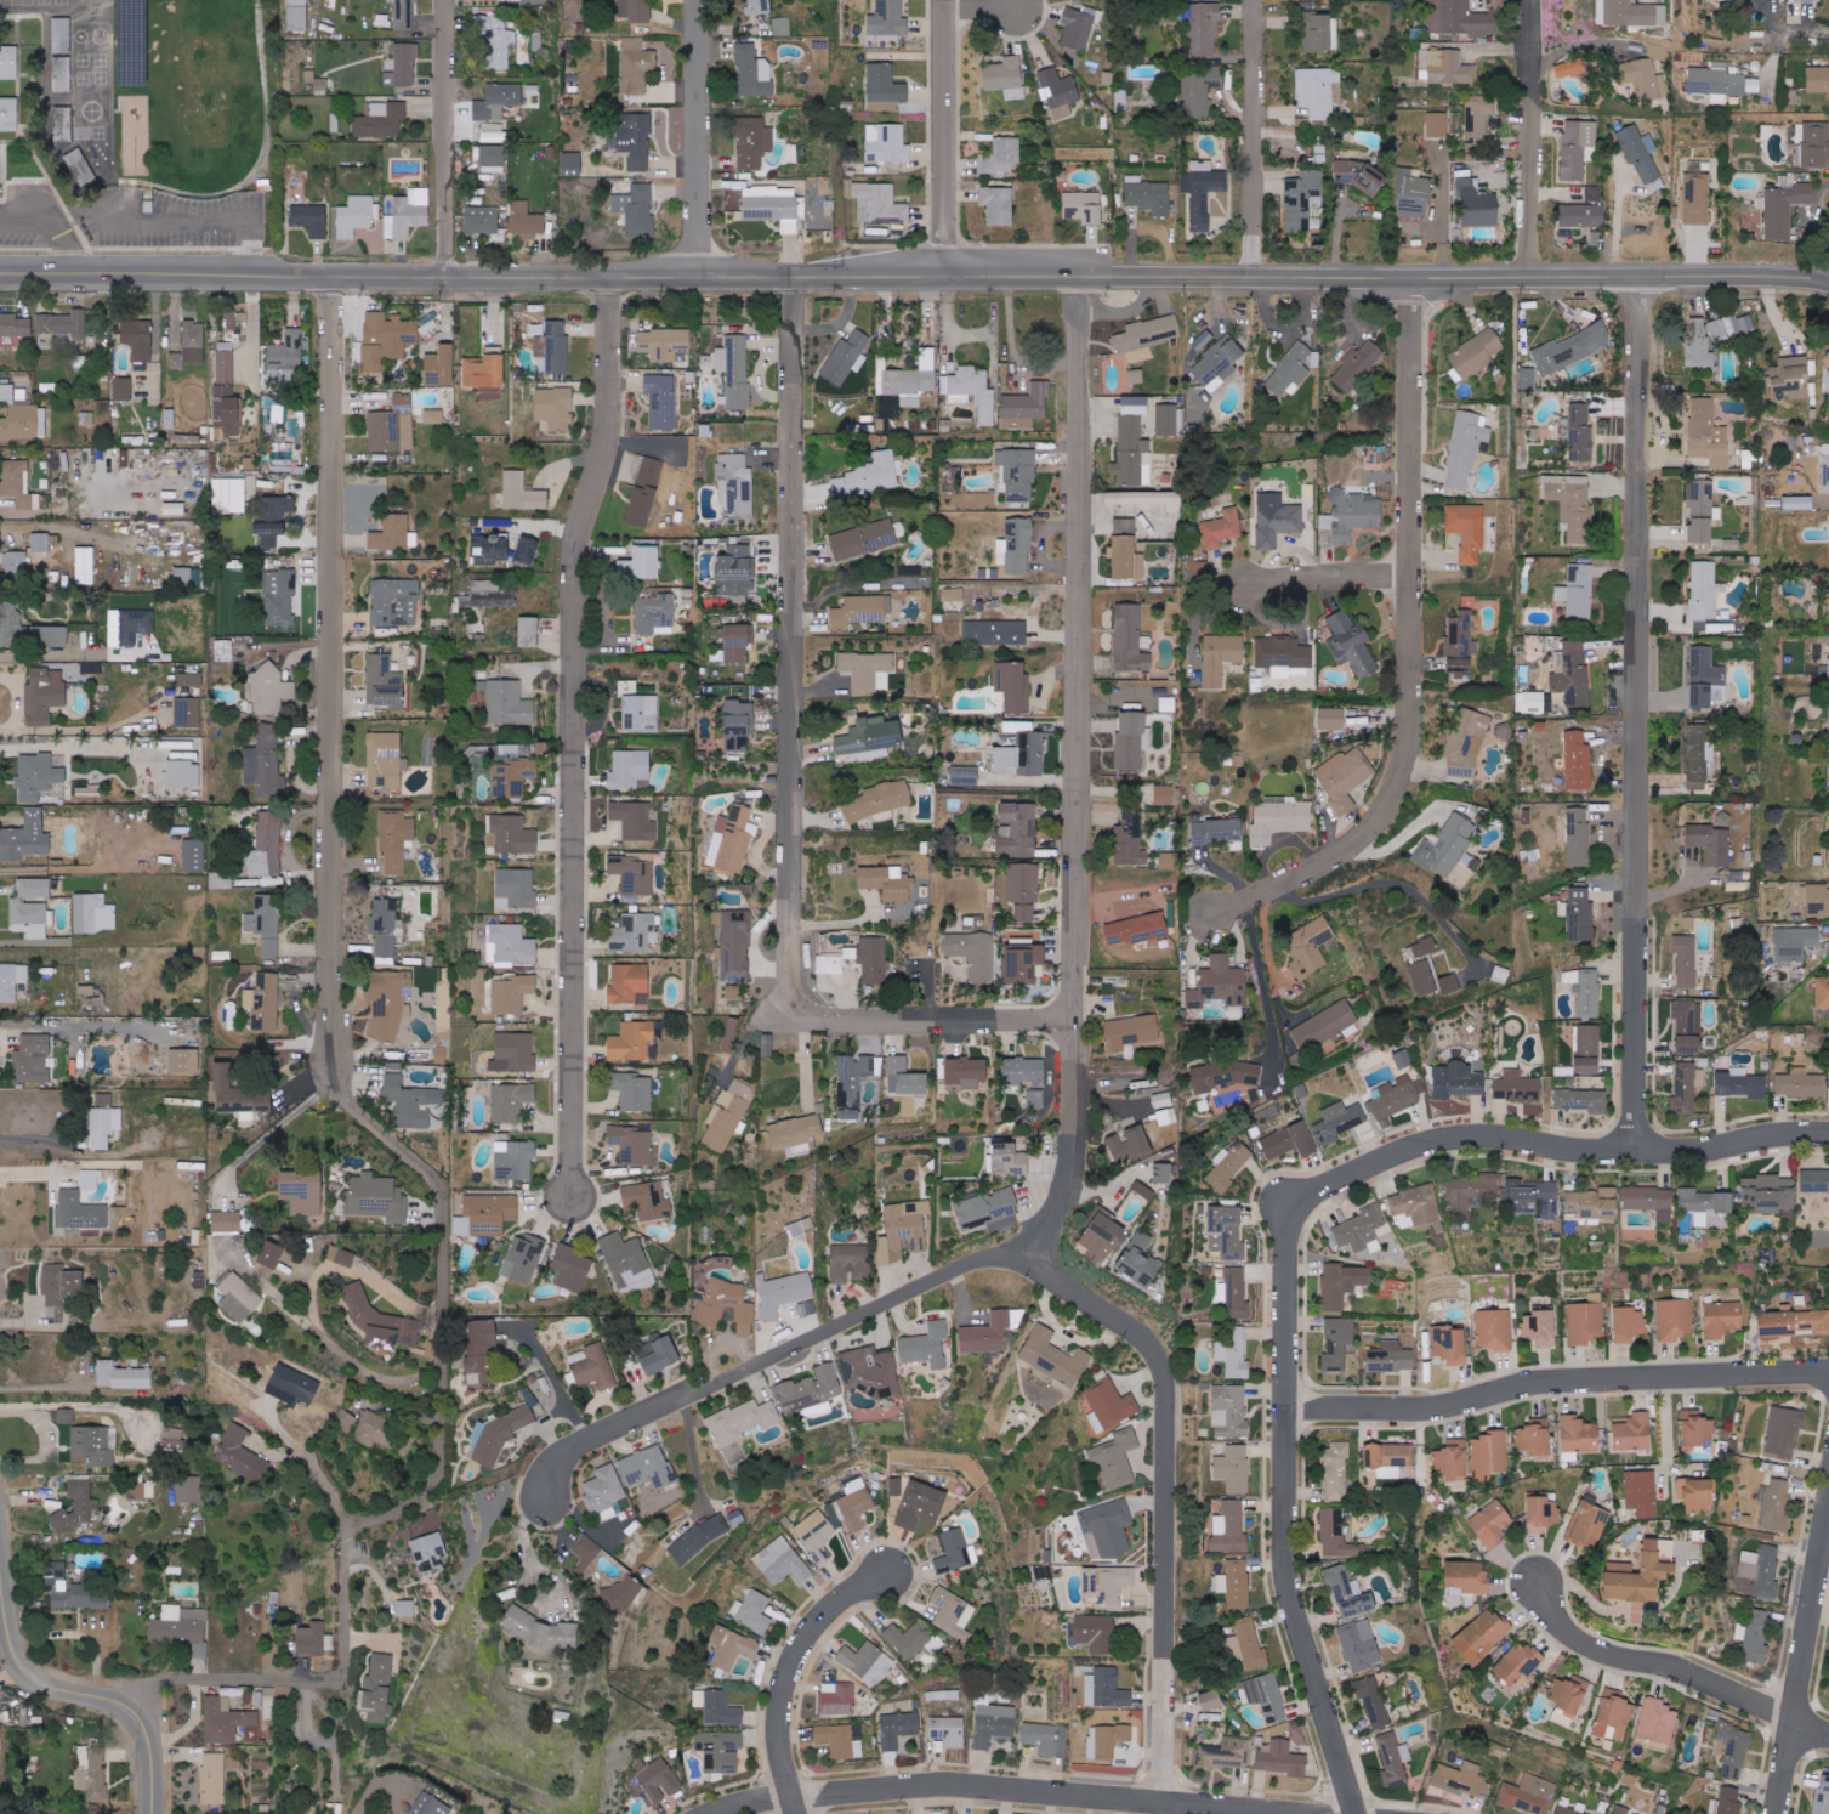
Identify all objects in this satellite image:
building: (512, 0)
building: (1742, 0)
building: (1810, 1)
building: (123, 2)
building: (756, 5)
building: (640, 10)
road: (983, 12)
building: (1634, 13)
building: (296, 15)
building: (404, 15)
building: (1459, 18)
building: (382, 21)
building: (888, 21)
building: (1079, 27)
building: (1204, 28)
building: (1318, 30)
building: (62, 34)
road: (1800, 35)
building: (501, 42)
building: (8, 62)
building: (403, 64)
building: (637, 66)
building: (1449, 68)
building: (1569, 68)
building: (751, 72)
building: (62, 75)
building: (1006, 78)
building: (1646, 78)
building: (1818, 80)
building: (1716, 83)
building: (314, 84)
building: (885, 87)
building: (1197, 91)
building: (1319, 91)
building: (1060, 92)
building: (498, 101)
building: (8, 113)
building: (381, 119)
building: (334, 121)
building: (1477, 121)
building: (1437, 124)
building: (63, 125)
road: (449, 137)
road: (694, 137)
road: (950, 137)
road: (1254, 137)
road: (1534, 138)
building: (754, 142)
building: (886, 143)
building: (1814, 143)
building: (1577, 147)
building: (636, 148)
building: (1001, 155)
building: (1642, 158)
building: (493, 159)
building: (572, 164)
building: (80, 166)
building: (1358, 175)
building: (1203, 194)
building: (1411, 194)
building: (1148, 195)
building: (1594, 195)
building: (1697, 198)
building: (1301, 199)
building: (634, 203)
building: (879, 204)
building: (1477, 204)
building: (998, 205)
building: (1784, 205)
building: (772, 206)
building: (1084, 206)
building: (408, 214)
road: (178, 216)
building: (356, 216)
building: (1583, 216)
building: (311, 219)
building: (482, 220)
building: (526, 220)
road: (57, 222)
building: (819, 222)
road: (39, 274)
road: (954, 276)
building: (63, 323)
building: (1734, 323)
building: (15, 325)
building: (1717, 330)
building: (394, 336)
building: (1146, 336)
building: (138, 339)
building: (664, 344)
building: (1697, 344)
building: (189, 346)
building: (556, 348)
building: (1572, 350)
building: (1476, 353)
building: (286, 355)
building: (1828, 355)
building: (846, 358)
building: (1219, 363)
building: (441, 365)
building: (1357, 365)
building: (735, 369)
building: (1289, 372)
building: (487, 373)
building: (1791, 378)
building: (1527, 379)
building: (911, 380)
building: (123, 389)
building: (973, 392)
building: (6, 393)
building: (227, 395)
building: (661, 401)
building: (1028, 404)
building: (1136, 404)
building: (555, 408)
building: (433, 416)
building: (169, 418)
building: (86, 419)
building: (1166, 419)
building: (24, 424)
building: (392, 426)
building: (1578, 432)
building: (1708, 436)
building: (187, 438)
building: (1466, 447)
building: (1132, 453)
building: (70, 459)
building: (1825, 469)
building: (1018, 474)
building: (869, 476)
building: (19, 484)
building: (735, 484)
building: (523, 492)
building: (644, 492)
building: (229, 494)
building: (1572, 503)
building: (1799, 503)
building: (278, 508)
building: (1702, 510)
building: (1356, 516)
building: (1277, 518)
building: (1222, 529)
building: (1469, 531)
building: (271, 533)
building: (393, 533)
building: (864, 539)
building: (1016, 545)
building: (40, 548)
building: (492, 548)
building: (528, 550)
building: (1126, 559)
building: (16, 563)
building: (643, 563)
building: (85, 565)
building: (1197, 569)
building: (735, 572)
building: (188, 577)
road: (1327, 583)
building: (1577, 591)
building: (1703, 591)
building: (490, 594)
building: (954, 594)
building: (279, 596)
building: (394, 602)
building: (863, 610)
building: (654, 613)
building: (136, 625)
building: (28, 631)
building: (529, 631)
building: (995, 631)
building: (1461, 635)
building: (1131, 640)
building: (737, 642)
building: (1352, 645)
road: (795, 647)
building: (225, 650)
road: (1411, 652)
road: (59, 657)
building: (1221, 657)
building: (1283, 657)
building: (1460, 667)
building: (869, 670)
building: (1572, 674)
building: (1704, 676)
building: (191, 679)
building: (385, 682)
building: (1013, 685)
building: (269, 690)
building: (44, 695)
building: (1530, 702)
building: (509, 704)
building: (187, 712)
building: (641, 714)
road: (1640, 715)
building: (1331, 719)
building: (738, 726)
building: (871, 735)
road: (576, 739)
building: (1132, 741)
building: (1466, 746)
road: (76, 747)
building: (1022, 755)
building: (1700, 756)
building: (386, 760)
building: (265, 761)
building: (1578, 761)
building: (631, 767)
building: (183, 773)
building: (36, 776)
building: (965, 776)
road: (1085, 776)
building: (1345, 777)
building: (512, 778)
building: (1164, 795)
building: (880, 801)
building: (1279, 818)
building: (635, 820)
building: (1018, 829)
building: (1217, 832)
building: (512, 834)
building: (1575, 837)
building: (396, 839)
building: (1130, 839)
building: (733, 840)
building: (1711, 844)
building: (266, 845)
building: (1448, 846)
building: (193, 856)
building: (634, 874)
building: (221, 879)
road: (1387, 882)
building: (888, 883)
building: (1739, 885)
building: (516, 889)
building: (1023, 889)
building: (1818, 900)
building: (32, 908)
building: (93, 913)
building: (1579, 913)
building: (266, 926)
building: (386, 929)
building: (1136, 930)
building: (635, 932)
building: (1796, 943)
building: (512, 945)
building: (735, 946)
road: (1267, 947)
building: (1425, 947)
building: (1311, 948)
building: (973, 953)
building: (873, 959)
building: (1686, 960)
building: (829, 964)
building: (1024, 964)
building: (591, 973)
building: (1569, 976)
road: (1261, 977)
building: (1424, 977)
building: (11, 980)
building: (1225, 981)
building: (630, 983)
building: (1450, 983)
building: (512, 993)
building: (1587, 993)
building: (1822, 993)
building: (92, 996)
building: (263, 1003)
building: (390, 1003)
road: (326, 1004)
road: (941, 1021)
building: (1324, 1027)
building: (1688, 1028)
building: (1131, 1032)
building: (731, 1034)
building: (631, 1041)
building: (767, 1045)
building: (1587, 1049)
building: (513, 1053)
building: (33, 1059)
building: (1403, 1059)
building: (184, 1060)
building: (966, 1072)
building: (1024, 1073)
building: (1223, 1076)
building: (907, 1078)
building: (1459, 1081)
building: (1800, 1083)
building: (852, 1084)
building: (1743, 1084)
building: (1517, 1088)
building: (1687, 1088)
building: (632, 1090)
building: (239, 1095)
building: (1397, 1098)
building: (1035, 1099)
building: (1161, 1100)
building: (511, 1101)
building: (1583, 1101)
building: (413, 1102)
building: (728, 1116)
building: (103, 1121)
building: (1337, 1122)
road: (273, 1132)
building: (795, 1134)
road: (34, 1139)
building: (1291, 1141)
building: (1130, 1144)
building: (635, 1146)
road: (1558, 1150)
building: (1011, 1158)
building: (515, 1161)
building: (1228, 1168)
road: (36, 1173)
building: (1164, 1173)
building: (90, 1180)
building: (1814, 1180)
building: (303, 1191)
building: (1144, 1191)
building: (1770, 1194)
building: (1537, 1196)
building: (377, 1198)
building: (647, 1201)
building: (1651, 1201)
building: (1416, 1204)
building: (1594, 1204)
building: (1706, 1208)
building: (987, 1209)
building: (80, 1212)
building: (487, 1215)
building: (227, 1221)
building: (1361, 1230)
building: (903, 1231)
building: (1227, 1232)
building: (1104, 1236)
building: (273, 1255)
building: (343, 1257)
building: (523, 1258)
building: (1142, 1259)
building: (627, 1263)
building: (850, 1263)
building: (570, 1269)
building: (1342, 1283)
building: (62, 1285)
building: (782, 1293)
building: (1234, 1293)
building: (239, 1298)
building: (726, 1306)
building: (367, 1317)
building: (1674, 1320)
building: (1722, 1320)
building: (1816, 1321)
building: (1585, 1323)
building: (1630, 1325)
building: (1778, 1325)
building: (1540, 1328)
building: (1494, 1330)
building: (988, 1333)
road: (331, 1343)
building: (1337, 1343)
building: (1449, 1345)
building: (927, 1347)
building: (479, 1350)
building: (660, 1354)
building: (1233, 1354)
building: (1053, 1356)
building: (1391, 1357)
road: (772, 1361)
building: (870, 1371)
building: (123, 1376)
building: (231, 1383)
building: (294, 1384)
road: (40, 1385)
road: (1558, 1385)
building: (811, 1389)
building: (1109, 1405)
building: (1229, 1411)
building: (67, 1415)
building: (740, 1421)
road: (1666, 1421)
building: (374, 1429)
building: (1698, 1430)
building: (1634, 1432)
building: (1784, 1432)
building: (502, 1434)
building: (1537, 1436)
building: (1579, 1436)
building: (172, 1439)
building: (95, 1444)
building: (1490, 1451)
building: (240, 1455)
road: (694, 1456)
building: (1117, 1457)
building: (1388, 1458)
building: (1453, 1458)
building: (648, 1467)
building: (1233, 1468)
building: (1337, 1472)
building: (189, 1490)
building: (141, 1491)
building: (604, 1492)
building: (1642, 1493)
building: (1697, 1493)
building: (856, 1503)
road: (1172, 1503)
building: (921, 1504)
building: (78, 1506)
building: (1777, 1506)
building: (1543, 1510)
road: (1291, 1518)
building: (1492, 1524)
building: (1587, 1524)
building: (1107, 1529)
building: (1229, 1529)
building: (816, 1536)
building: (1337, 1536)
building: (698, 1538)
building: (430, 1552)
building: (956, 1552)
building: (580, 1554)
building: (81, 1560)
building: (783, 1563)
building: (1760, 1570)
building: (1470, 1575)
building: (1641, 1575)
building: (1233, 1583)
building: (1107, 1585)
building: (76, 1591)
building: (626, 1592)
building: (1350, 1594)
building: (405, 1608)
building: (755, 1611)
building: (953, 1614)
building: (180, 1625)
building: (528, 1626)
building: (1096, 1633)
building: (1753, 1633)
building: (566, 1634)
building: (1483, 1636)
building: (314, 1638)
building: (1250, 1645)
building: (1361, 1645)
building: (729, 1648)
road: (1799, 1648)
building: (867, 1662)
building: (1518, 1662)
road: (1675, 1670)
road: (794, 1672)
road: (301, 1680)
building: (379, 1688)
building: (1106, 1688)
road: (64, 1690)
building: (1828, 1690)
building: (1266, 1696)
building: (836, 1697)
building: (1211, 1700)
building: (1568, 1700)
building: (1373, 1701)
road: (329, 1713)
building: (1614, 1714)
building: (226, 1719)
building: (993, 1723)
building: (1654, 1724)
building: (898, 1728)
building: (948, 1730)
road: (323, 1736)
building: (1044, 1739)
building: (840, 1740)
building: (1107, 1740)
building: (721, 1750)
building: (1733, 1750)
building: (1222, 1753)
building: (1393, 1757)
building: (1282, 1759)
building: (92, 1770)
building: (212, 1778)
building: (657, 1780)
building: (1464, 1780)
road: (373, 1787)
road: (1000, 1791)
building: (1528, 1795)
building: (1822, 1798)
building: (1729, 1799)
building: (428, 1806)
building: (1569, 1807)
building: (1620, 1812)

